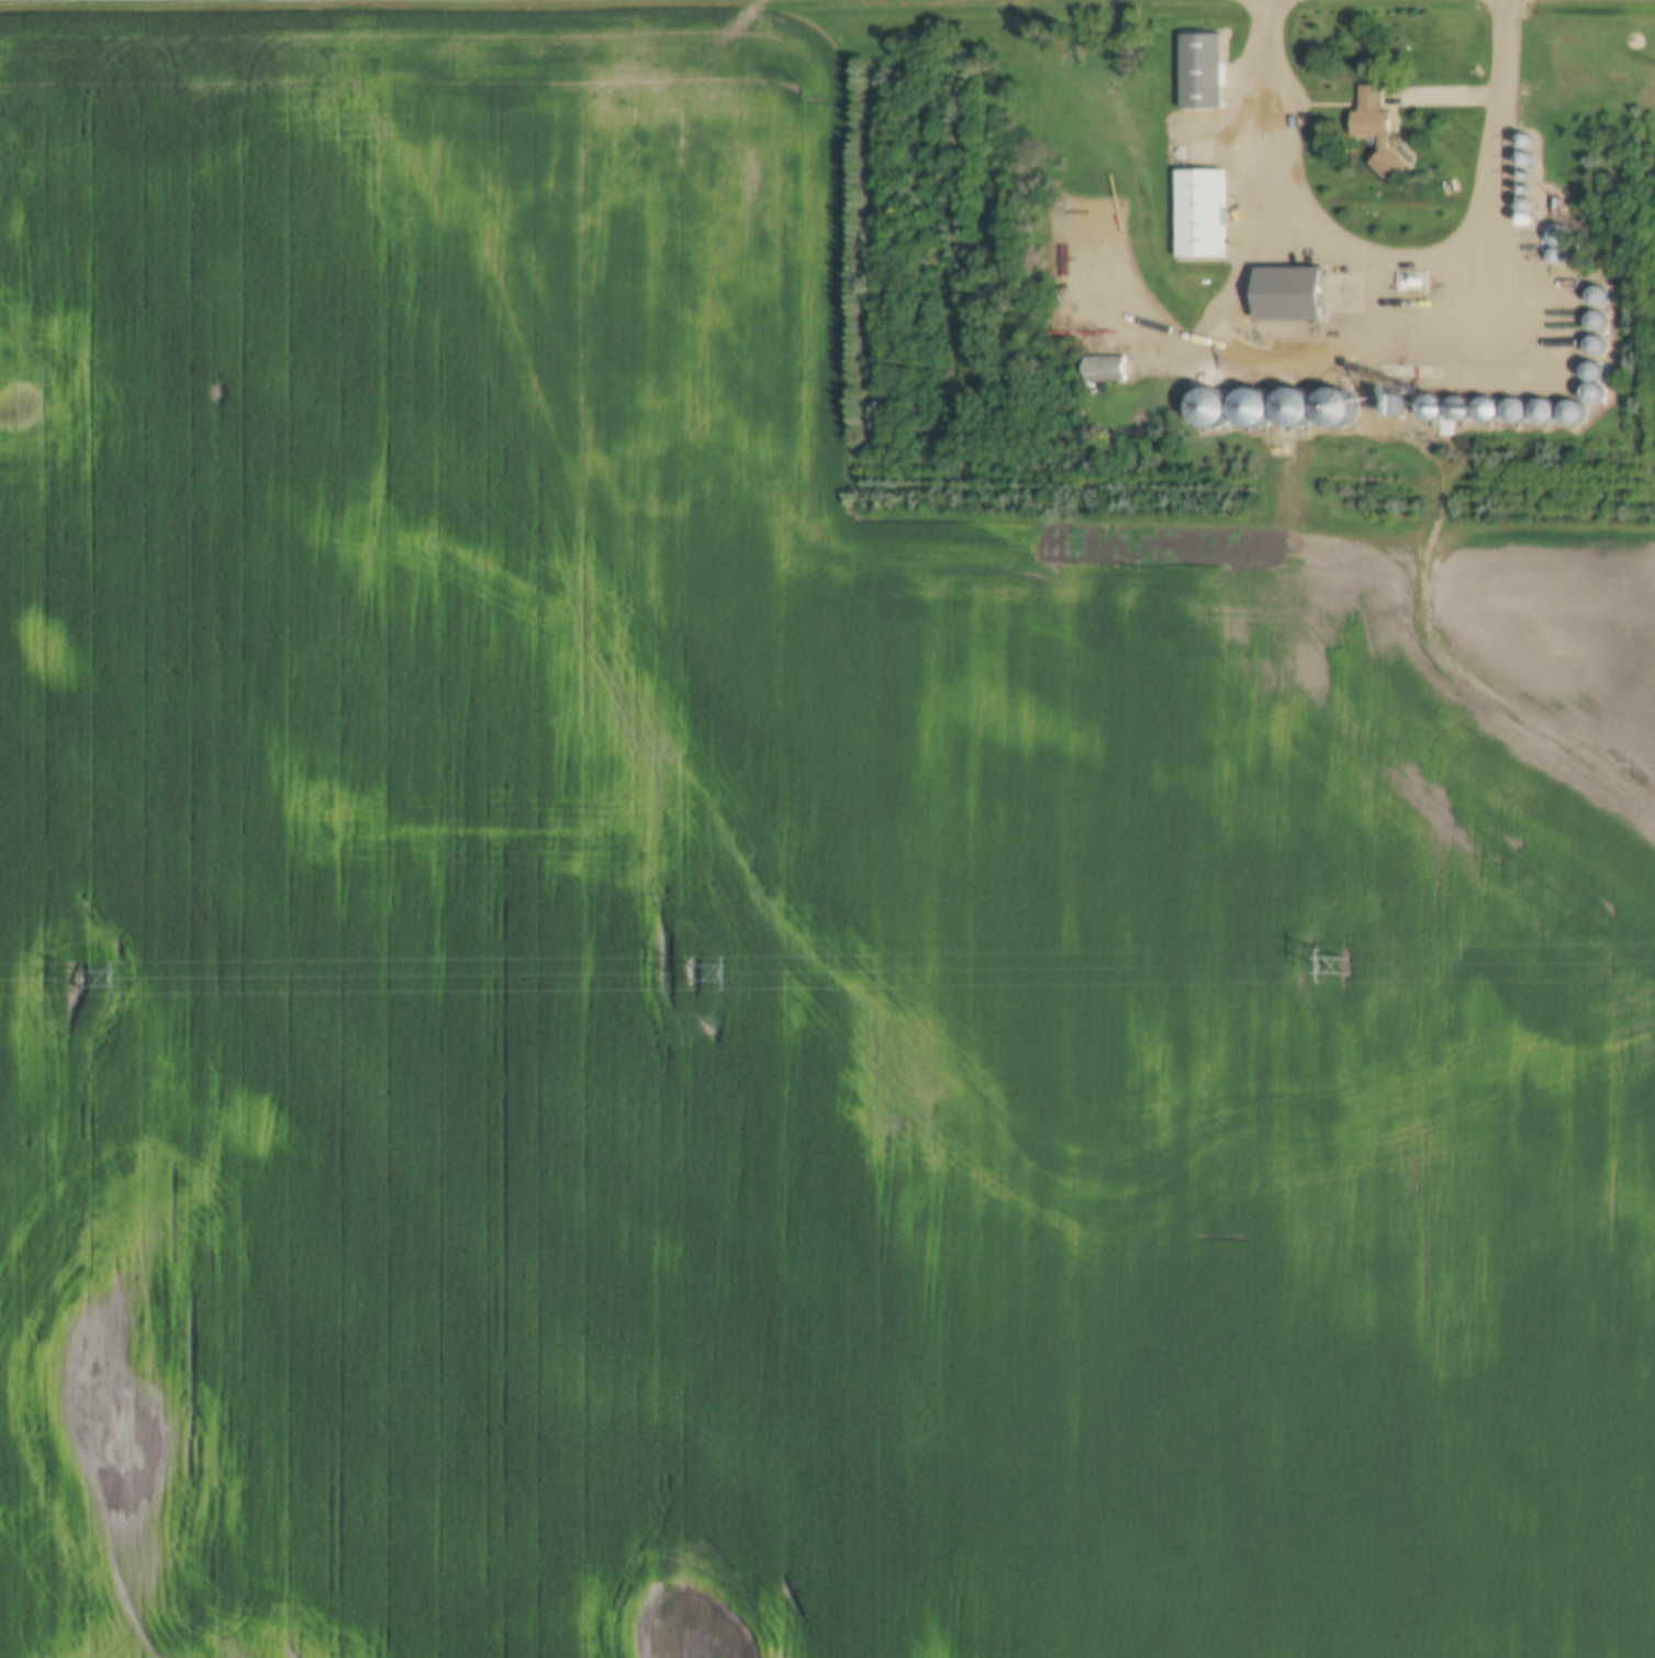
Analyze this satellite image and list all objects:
building: (1203, 71)
building: (1378, 131)
building: (1199, 213)
building: (1559, 236)
road: (1394, 260)
building: (1291, 294)
building: (1597, 295)
building: (1597, 321)
building: (1595, 345)
building: (1104, 368)
building: (1594, 393)
building: (1253, 407)
building: (1514, 410)
building: (1543, 412)
building: (1572, 413)
power tower: (1344, 967)
power tower: (689, 975)
power tower: (79, 978)

